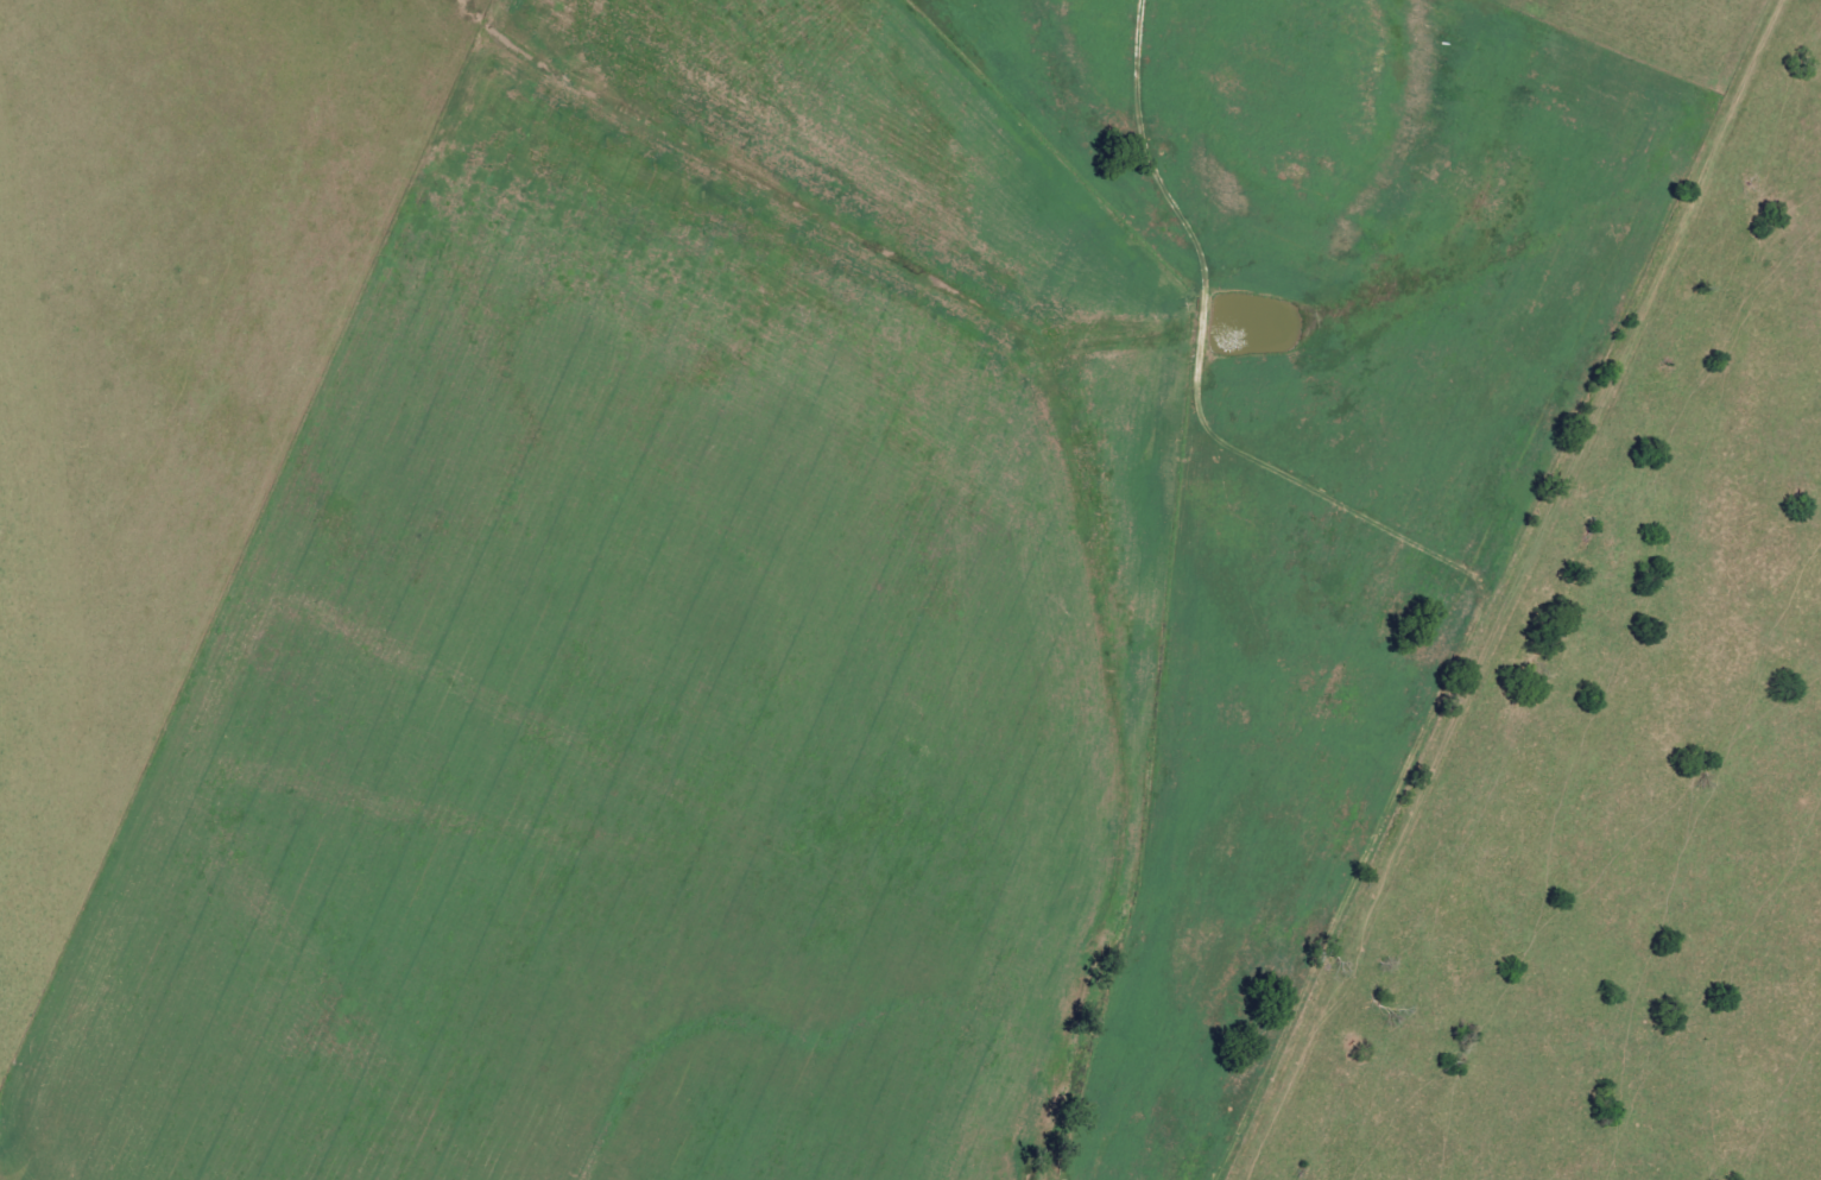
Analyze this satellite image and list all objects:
road: (1428, 556)

